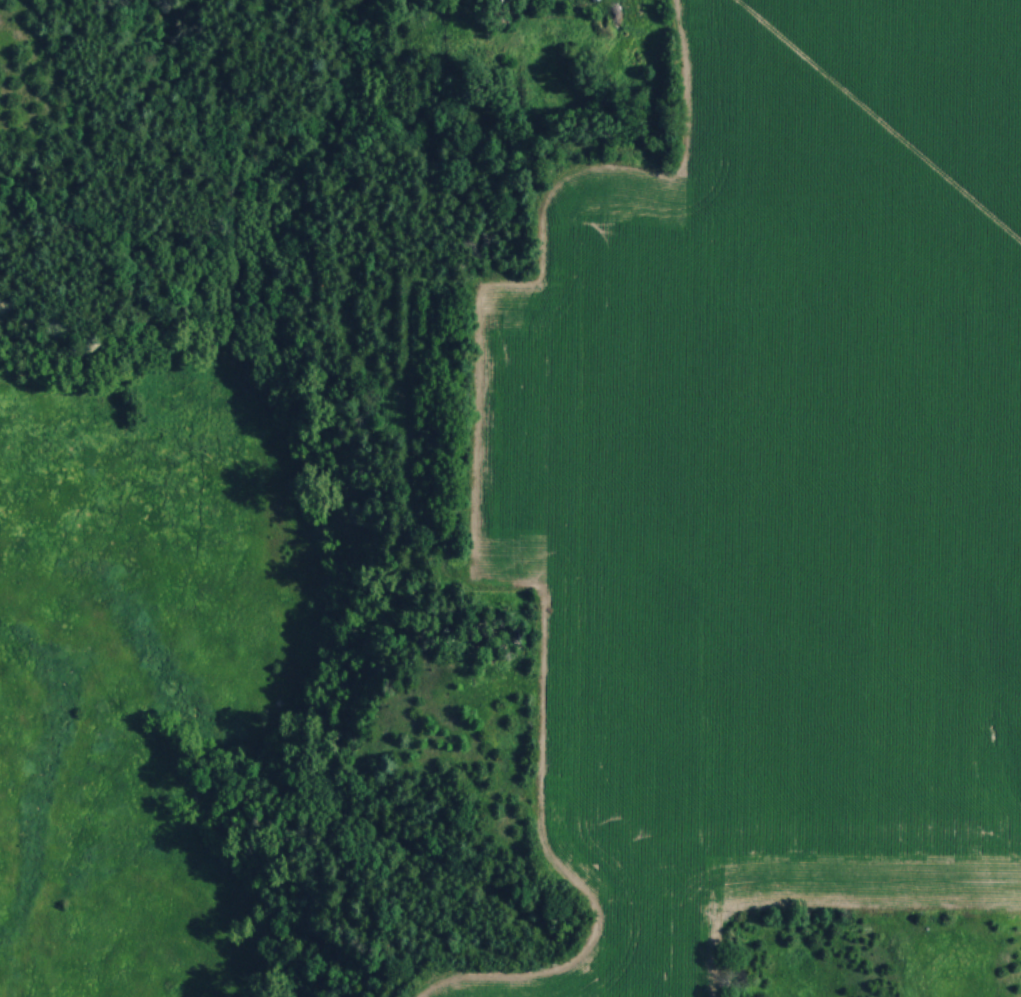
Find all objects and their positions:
building: (500, 1)

